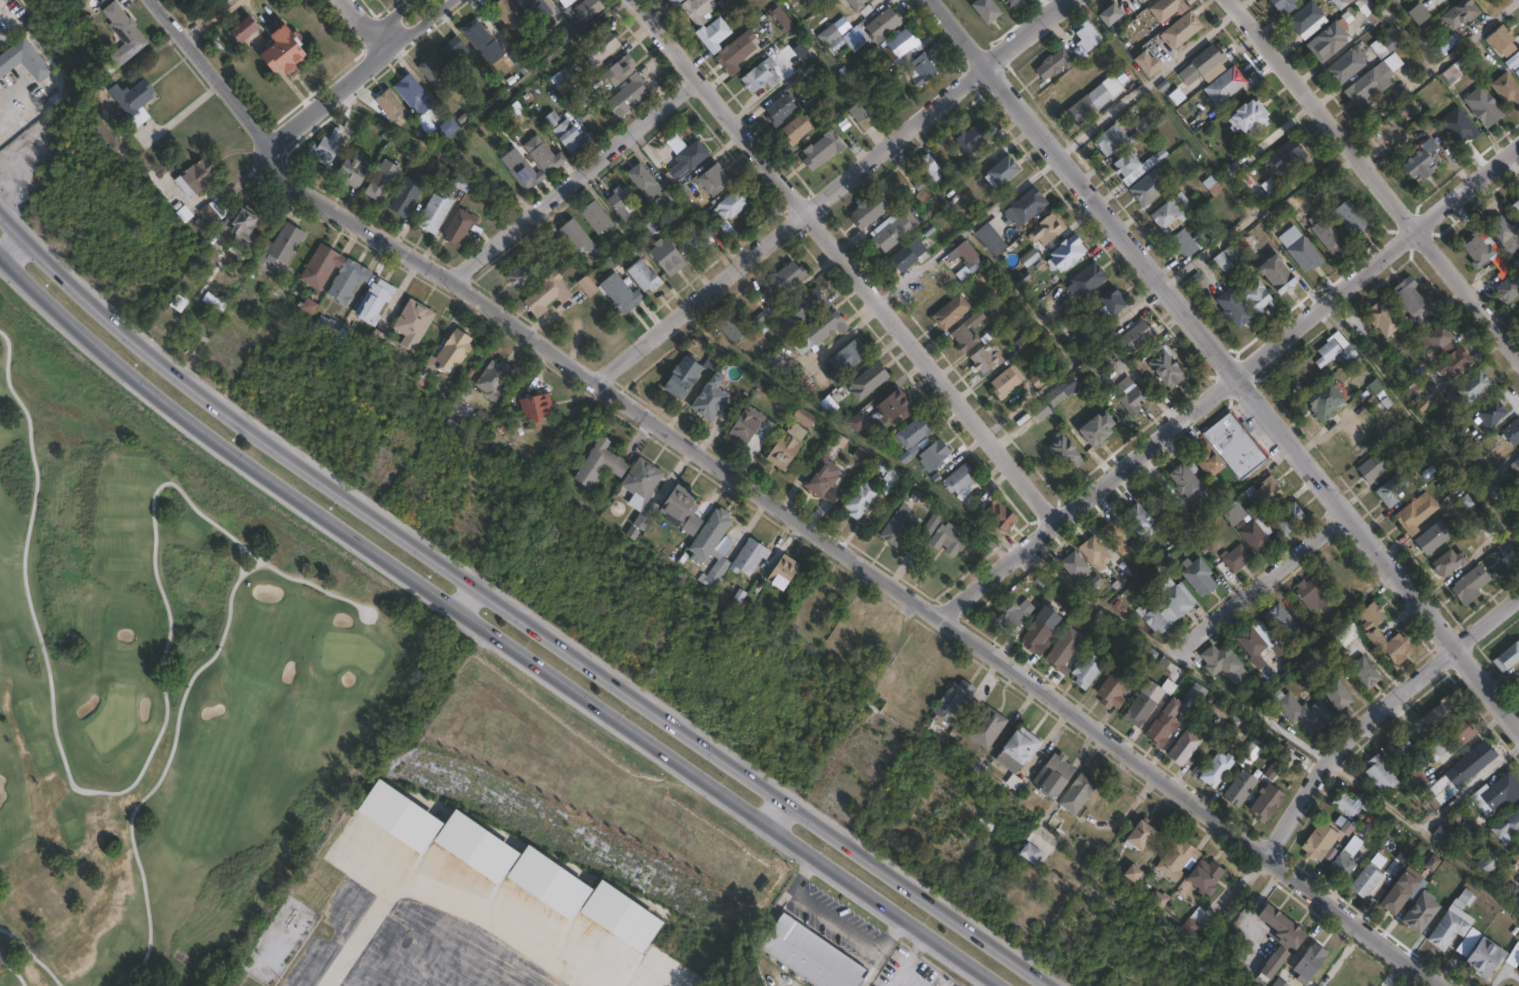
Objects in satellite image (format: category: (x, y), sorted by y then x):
building: (371, 0)
building: (555, 0)
building: (1140, 1)
building: (563, 2)
building: (671, 2)
building: (793, 2)
building: (1009, 2)
building: (1339, 3)
building: (852, 4)
road: (1241, 4)
building: (1282, 6)
building: (1165, 8)
building: (586, 9)
building: (532, 10)
building: (695, 10)
building: (982, 10)
building: (1367, 11)
building: (1416, 13)
building: (1458, 14)
building: (1107, 15)
road: (384, 17)
building: (508, 17)
building: (779, 17)
building: (1303, 17)
road: (212, 22)
road: (362, 22)
building: (881, 24)
building: (242, 26)
road: (416, 26)
building: (1312, 28)
building: (1179, 30)
building: (125, 34)
building: (710, 34)
building: (1424, 34)
building: (827, 35)
building: (480, 38)
building: (853, 38)
building: (1327, 40)
building: (1501, 40)
building: (1385, 43)
building: (899, 46)
building: (1442, 46)
building: (456, 48)
building: (599, 48)
building: (290, 49)
building: (733, 52)
building: (1066, 54)
building: (797, 56)
building: (24, 60)
building: (1144, 64)
building: (1514, 64)
building: (1345, 65)
building: (1202, 66)
building: (618, 68)
building: (919, 69)
building: (1453, 71)
building: (438, 73)
building: (758, 76)
building: (564, 80)
building: (1371, 81)
road: (1149, 84)
building: (1223, 85)
building: (1505, 89)
building: (415, 92)
building: (625, 96)
building: (1095, 97)
building: (134, 98)
road: (327, 100)
building: (582, 100)
building: (395, 106)
building: (1482, 107)
road: (18, 108)
building: (778, 108)
building: (856, 112)
building: (1190, 118)
building: (1244, 118)
building: (499, 120)
building: (450, 128)
building: (792, 130)
building: (571, 133)
building: (1119, 136)
building: (970, 139)
building: (1382, 143)
building: (330, 147)
building: (818, 150)
building: (413, 152)
building: (684, 152)
building: (548, 155)
building: (1284, 156)
building: (1416, 165)
building: (1133, 166)
building: (355, 170)
building: (926, 170)
building: (952, 171)
building: (1000, 171)
building: (443, 172)
building: (529, 175)
building: (199, 177)
road: (1374, 177)
building: (386, 180)
building: (710, 180)
building: (641, 181)
road: (569, 182)
building: (469, 183)
building: (1210, 185)
building: (1146, 188)
road: (825, 189)
building: (411, 196)
building: (909, 200)
building: (618, 201)
building: (729, 205)
building: (1022, 208)
building: (1515, 208)
building: (866, 211)
building: (437, 212)
building: (211, 214)
building: (1169, 214)
building: (593, 217)
building: (1348, 217)
building: (247, 227)
building: (463, 228)
building: (1045, 230)
building: (1502, 230)
building: (726, 231)
building: (890, 231)
building: (1325, 233)
building: (572, 236)
building: (691, 238)
building: (990, 239)
road: (7, 243)
building: (285, 243)
building: (1182, 243)
building: (1299, 250)
building: (1485, 252)
building: (1063, 254)
building: (906, 256)
building: (966, 256)
building: (664, 257)
building: (1028, 258)
road: (840, 261)
building: (1221, 261)
building: (323, 266)
building: (525, 274)
building: (1273, 275)
building: (641, 276)
building: (1084, 280)
building: (349, 281)
building: (780, 284)
building: (927, 286)
building: (590, 287)
building: (1507, 289)
building: (622, 293)
building: (550, 294)
building: (1407, 297)
building: (1256, 298)
building: (216, 301)
building: (376, 301)
building: (180, 302)
building: (1110, 302)
building: (804, 306)
building: (1231, 308)
building: (1518, 310)
building: (949, 312)
building: (1381, 319)
building: (330, 324)
building: (415, 324)
building: (728, 328)
building: (816, 331)
building: (969, 333)
building: (1134, 337)
building: (1434, 343)
building: (1333, 351)
building: (456, 353)
building: (984, 359)
building: (843, 361)
building: (772, 362)
road: (1226, 364)
building: (1452, 364)
building: (1163, 367)
building: (678, 375)
road: (1226, 378)
building: (495, 379)
building: (799, 381)
building: (865, 382)
building: (1005, 382)
building: (1471, 387)
building: (1061, 391)
building: (706, 397)
building: (1128, 397)
building: (1322, 400)
building: (893, 405)
building: (538, 407)
building: (1039, 411)
building: (461, 414)
building: (1490, 414)
building: (802, 416)
building: (740, 424)
building: (795, 430)
building: (1511, 431)
building: (1093, 432)
building: (911, 433)
building: (1226, 447)
building: (780, 450)
building: (1062, 452)
building: (908, 455)
building: (860, 456)
building: (931, 456)
building: (1516, 461)
building: (601, 464)
building: (1372, 466)
building: (1433, 467)
building: (885, 476)
building: (1517, 476)
building: (1185, 480)
building: (822, 482)
building: (642, 483)
building: (958, 483)
building: (1394, 486)
building: (1492, 487)
building: (1262, 493)
building: (858, 499)
road: (775, 505)
building: (681, 506)
building: (1414, 512)
building: (997, 515)
building: (1285, 518)
building: (1136, 520)
building: (932, 522)
building: (894, 525)
building: (1249, 526)
building: (1112, 534)
building: (714, 535)
building: (1492, 535)
building: (1432, 536)
building: (945, 539)
building: (1092, 552)
building: (750, 556)
building: (1234, 558)
building: (1448, 561)
building: (1072, 565)
building: (716, 572)
building: (784, 572)
building: (1197, 576)
road: (1257, 581)
building: (1469, 584)
building: (1308, 595)
building: (1177, 599)
road: (462, 602)
building: (1006, 614)
building: (1370, 615)
road: (508, 617)
building: (1154, 620)
building: (1284, 622)
building: (1037, 629)
road: (488, 636)
building: (1373, 637)
building: (1256, 643)
building: (1394, 647)
building: (1059, 653)
building: (1115, 653)
building: (1507, 656)
building: (1220, 659)
building: (1084, 671)
building: (1362, 672)
building: (1518, 674)
park: (154, 677)
building: (1112, 688)
building: (1196, 693)
building: (1335, 694)
building: (1145, 700)
building: (956, 703)
building: (1216, 711)
building: (1301, 711)
building: (1437, 715)
road: (1380, 716)
road: (1272, 723)
building: (1162, 724)
building: (988, 728)
building: (1260, 738)
building: (1452, 738)
building: (1182, 747)
building: (1397, 748)
building: (1019, 750)
building: (1217, 768)
building: (1379, 773)
building: (1456, 774)
building: (1056, 776)
building: (1415, 777)
building: (1240, 787)
building: (1495, 793)
building: (1078, 794)
building: (1267, 802)
building: (1345, 804)
road: (775, 817)
building: (1506, 827)
building: (1345, 829)
building: (1442, 835)
building: (1143, 836)
building: (1320, 841)
building: (1031, 853)
building: (1178, 859)
building: (1487, 863)
building: (1342, 864)
building: (1134, 873)
building: (1203, 876)
building: (1368, 876)
building: (1401, 892)
building: (1159, 899)
building: (1464, 899)
building: (1422, 912)
road: (832, 926)
building: (1450, 926)
building: (1190, 927)
building: (1281, 938)
building: (811, 955)
building: (1513, 955)
building: (1486, 956)
road: (907, 960)
building: (1312, 962)
road: (872, 971)
road: (904, 981)
building: (1281, 983)
road: (993, 984)

